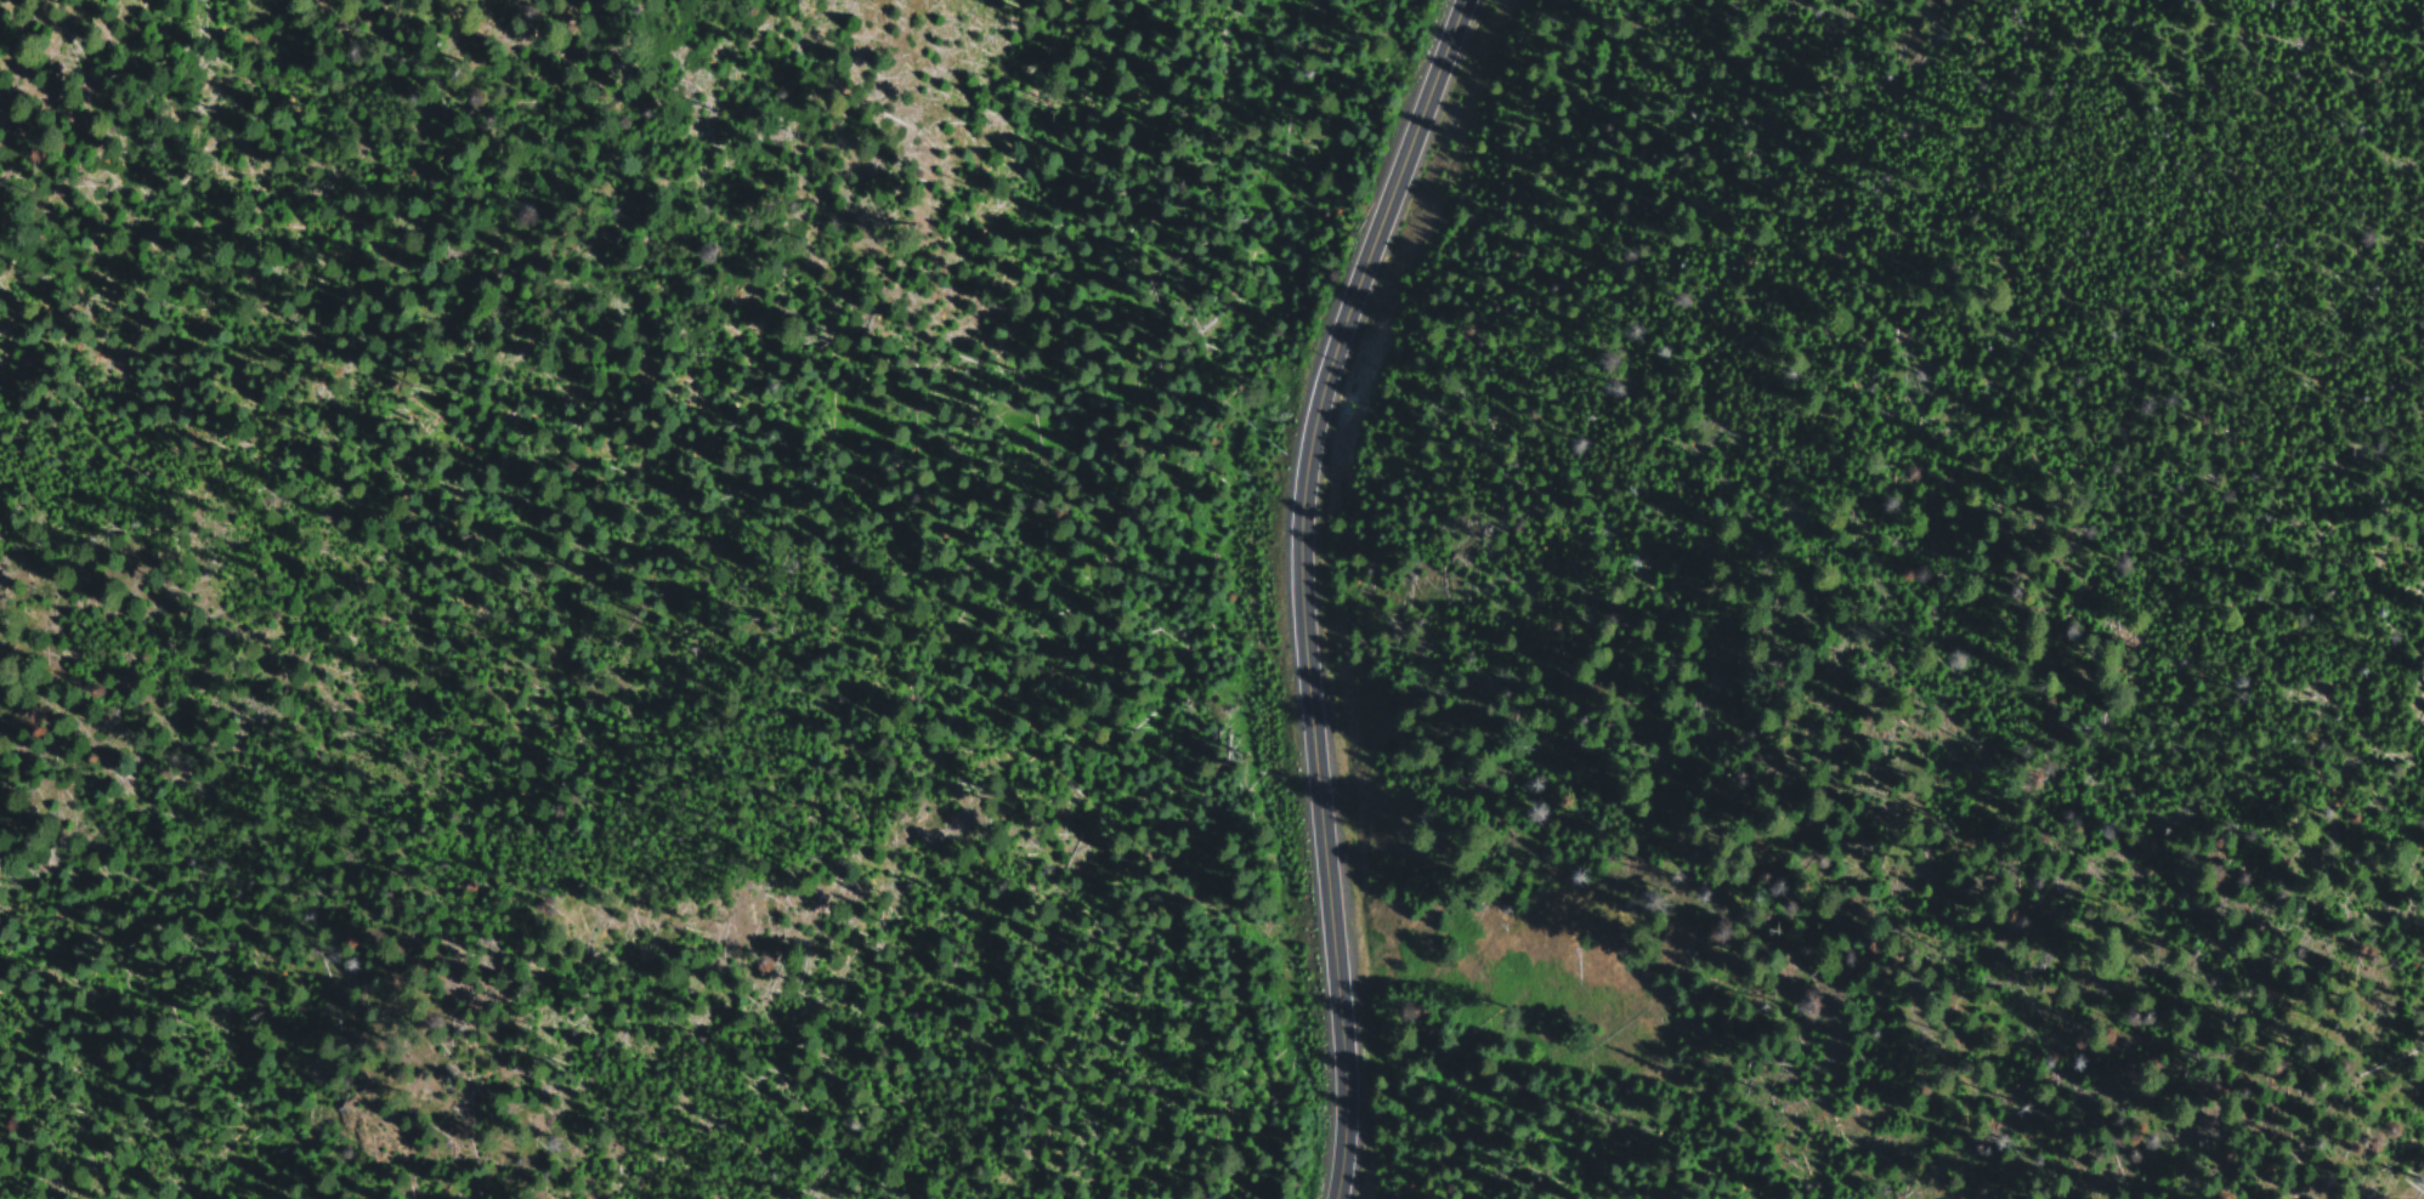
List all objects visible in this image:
road: (1307, 587)

